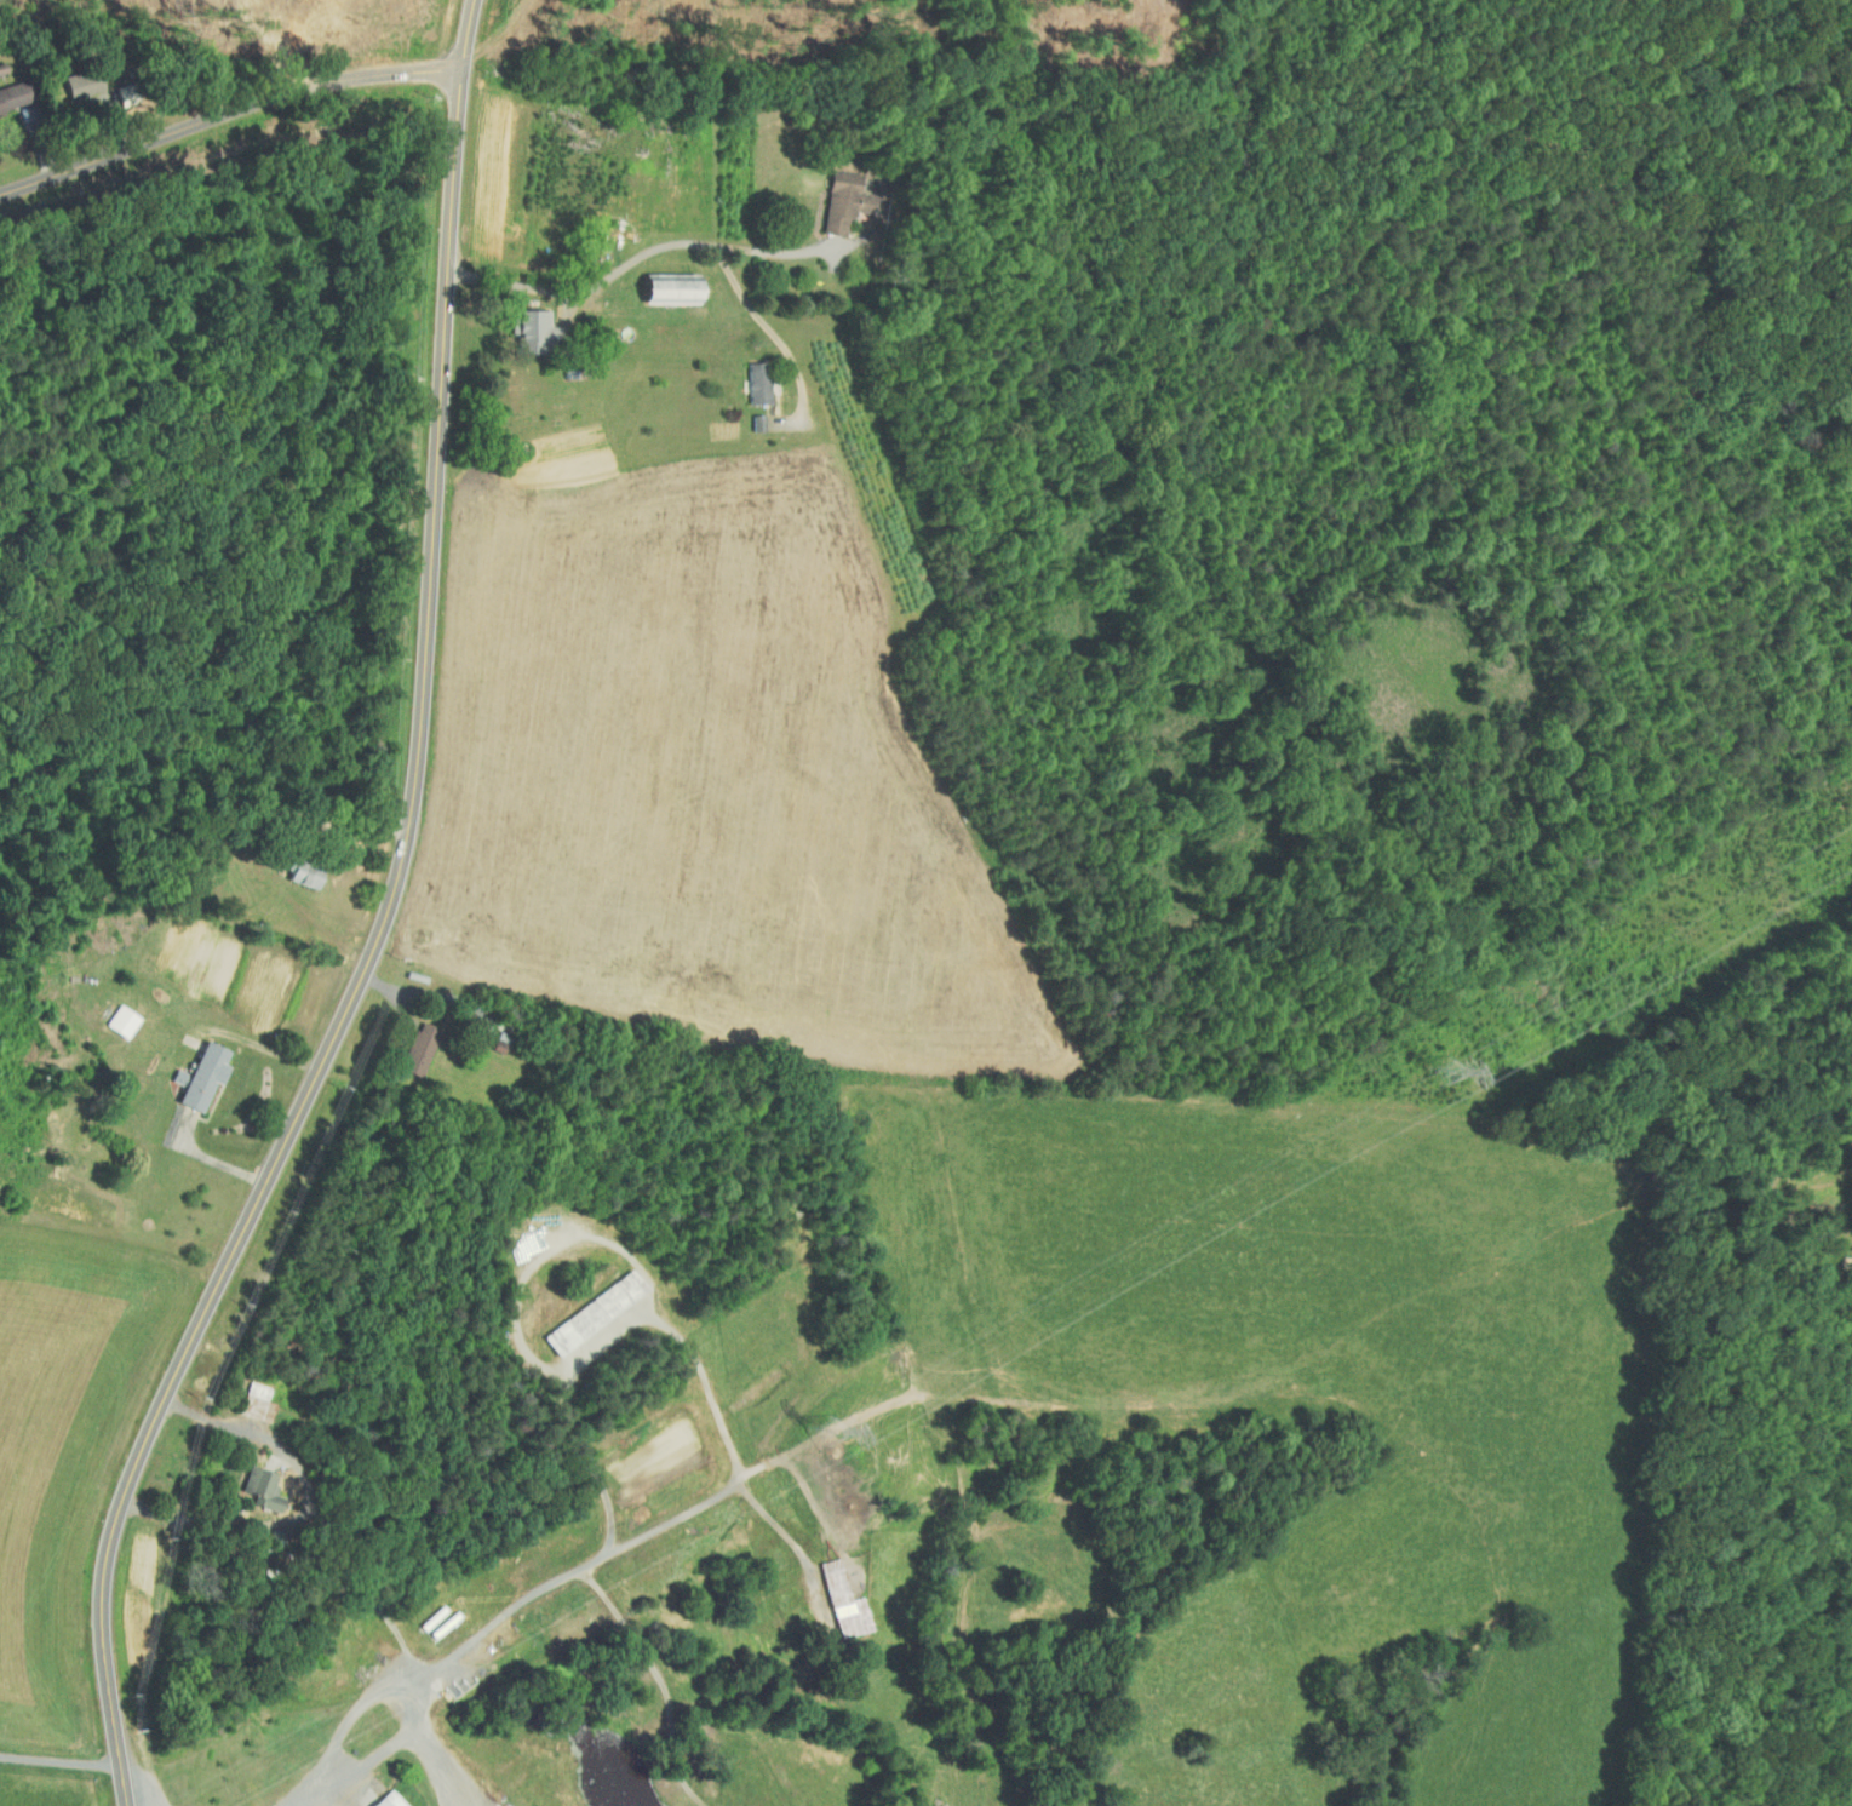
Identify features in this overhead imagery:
building: (18, 92)
road: (224, 107)
road: (107, 114)
road: (21, 143)
building: (841, 201)
road: (647, 253)
building: (659, 291)
road: (551, 316)
road: (767, 326)
building: (527, 328)
building: (756, 382)
road: (355, 878)
road: (383, 929)
building: (119, 1021)
road: (448, 1033)
building: (415, 1050)
power tower: (1447, 1072)
building: (196, 1077)
road: (247, 1108)
building: (589, 1313)
road: (604, 1337)
road: (688, 1342)
building: (250, 1404)
power tower: (828, 1434)
building: (253, 1489)
road: (310, 1504)
road: (778, 1525)
building: (838, 1599)
road: (406, 1696)
road: (61, 1761)
road: (441, 1764)
road: (303, 1791)
road: (334, 1791)
building: (383, 1799)
road: (337, 1802)

